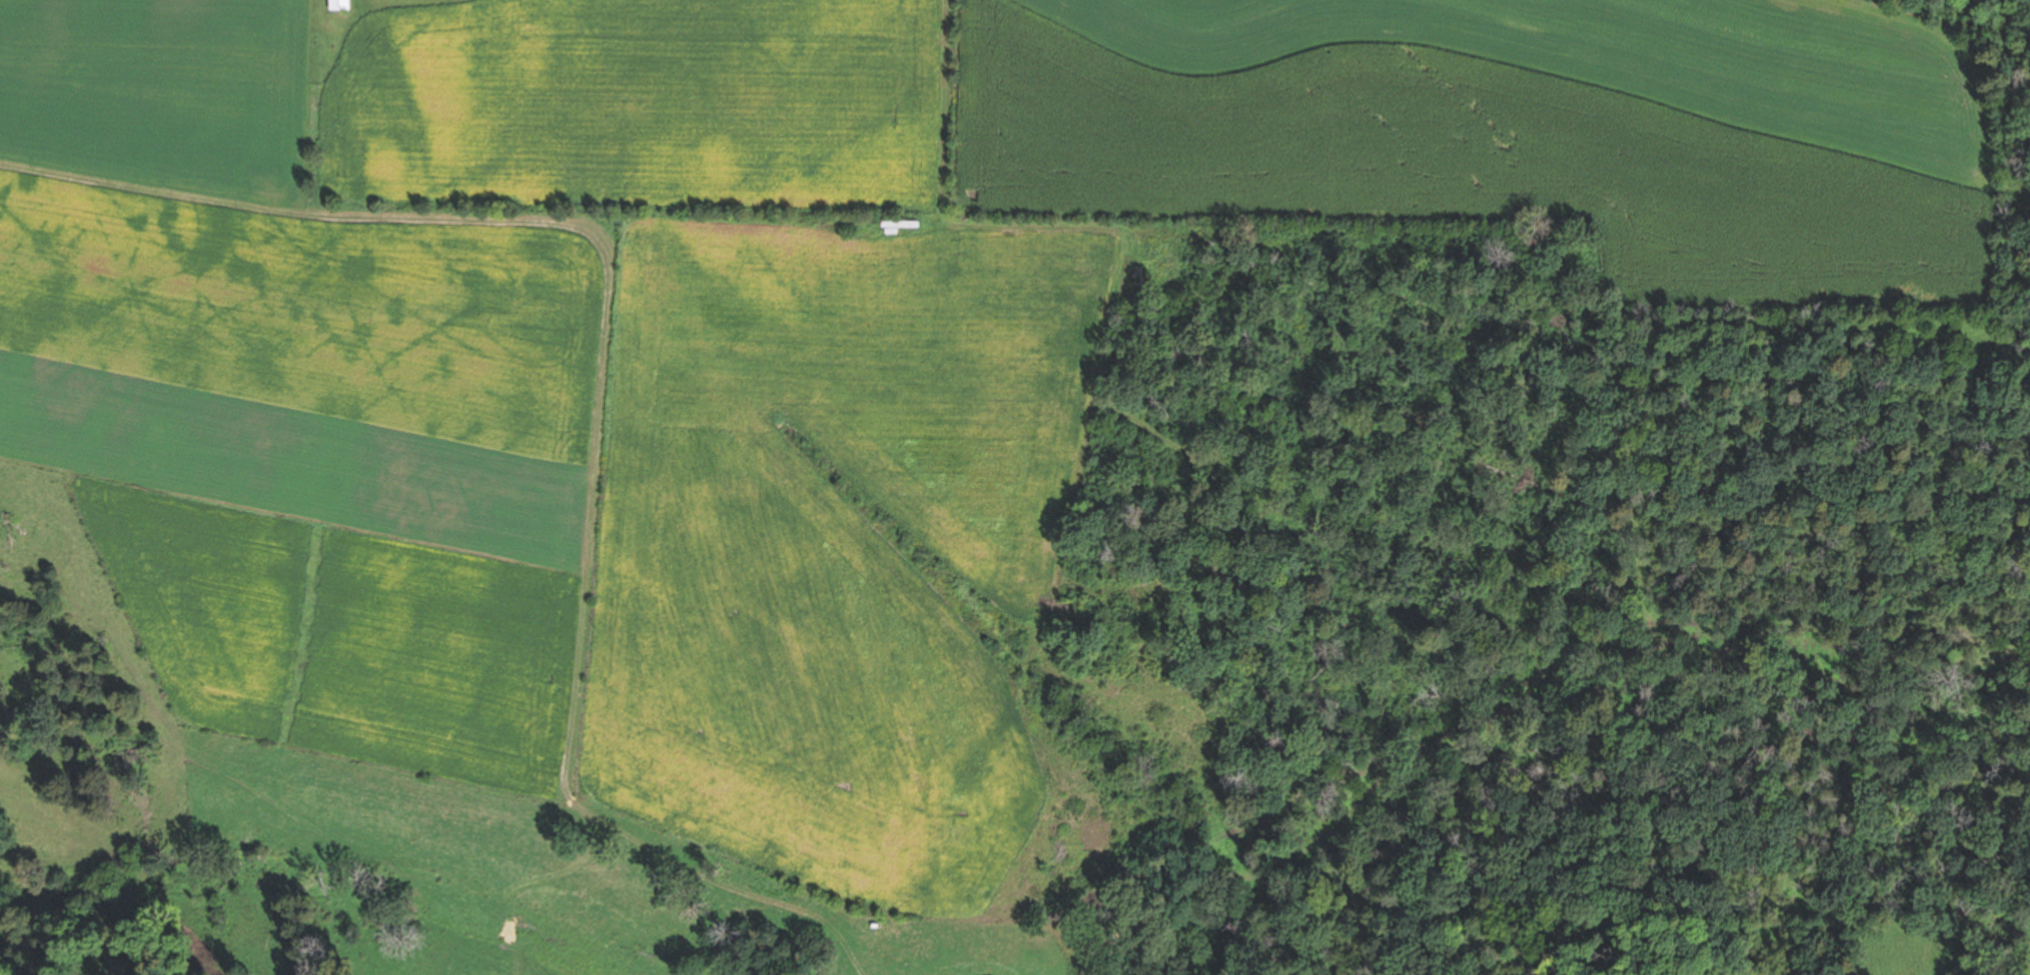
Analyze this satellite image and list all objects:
building: (340, 5)
road: (947, 114)

